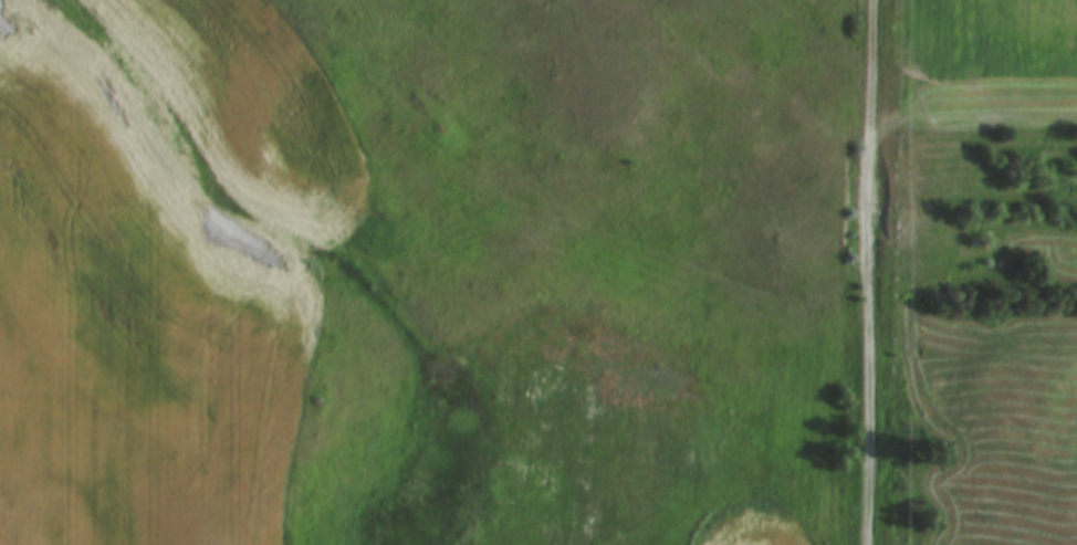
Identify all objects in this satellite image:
road: (865, 272)

